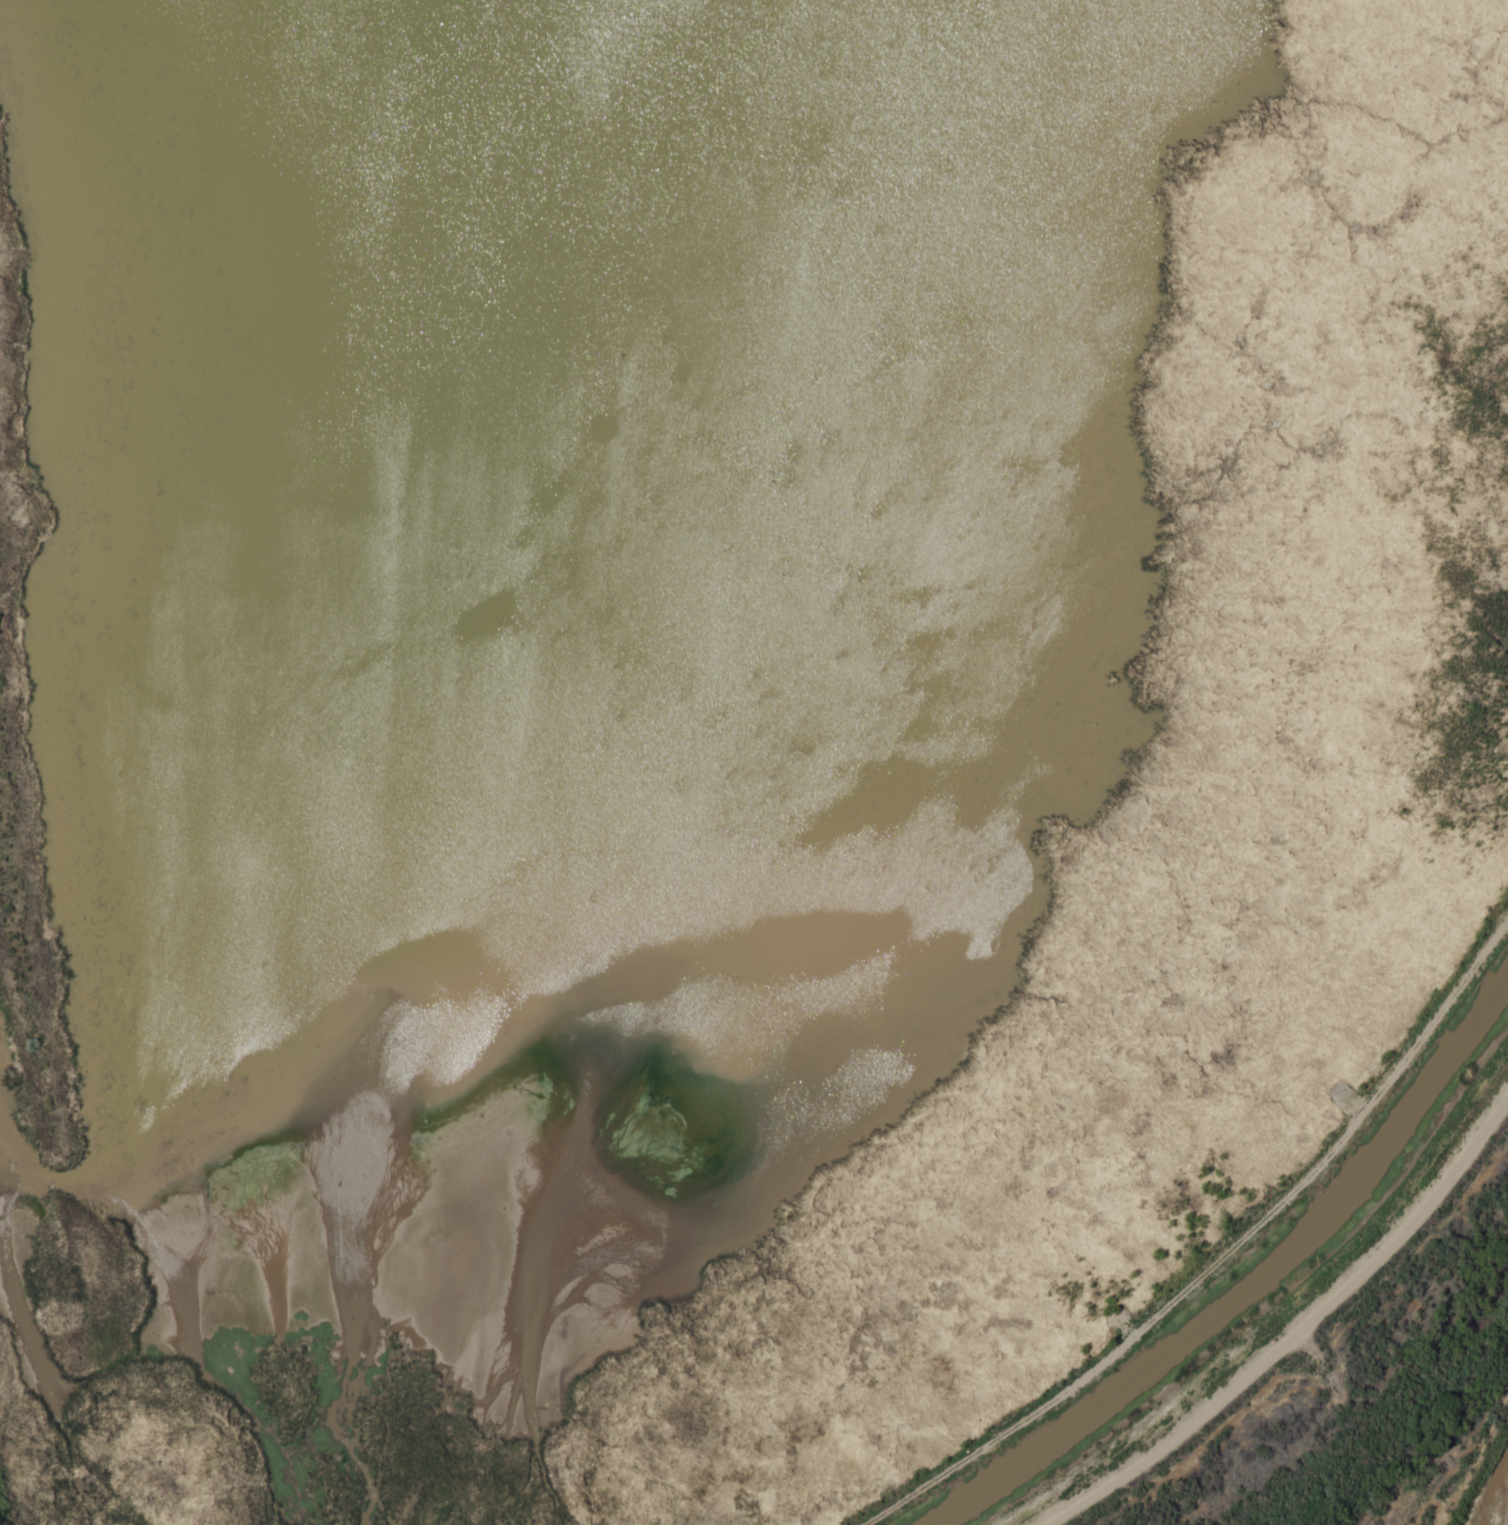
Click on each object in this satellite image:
road: (1218, 1256)
road: (1299, 1334)
river: (1496, 1500)

